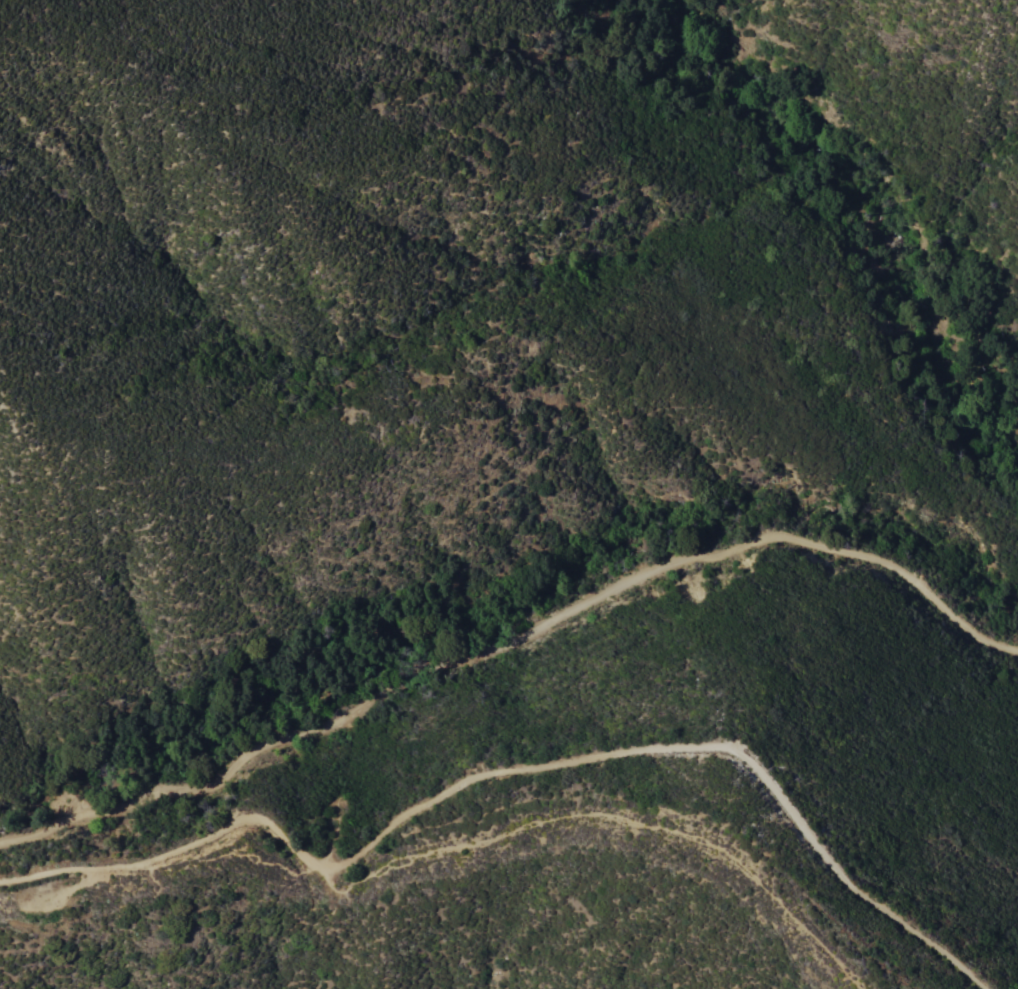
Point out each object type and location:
road: (512, 641)
road: (512, 775)
road: (604, 812)

